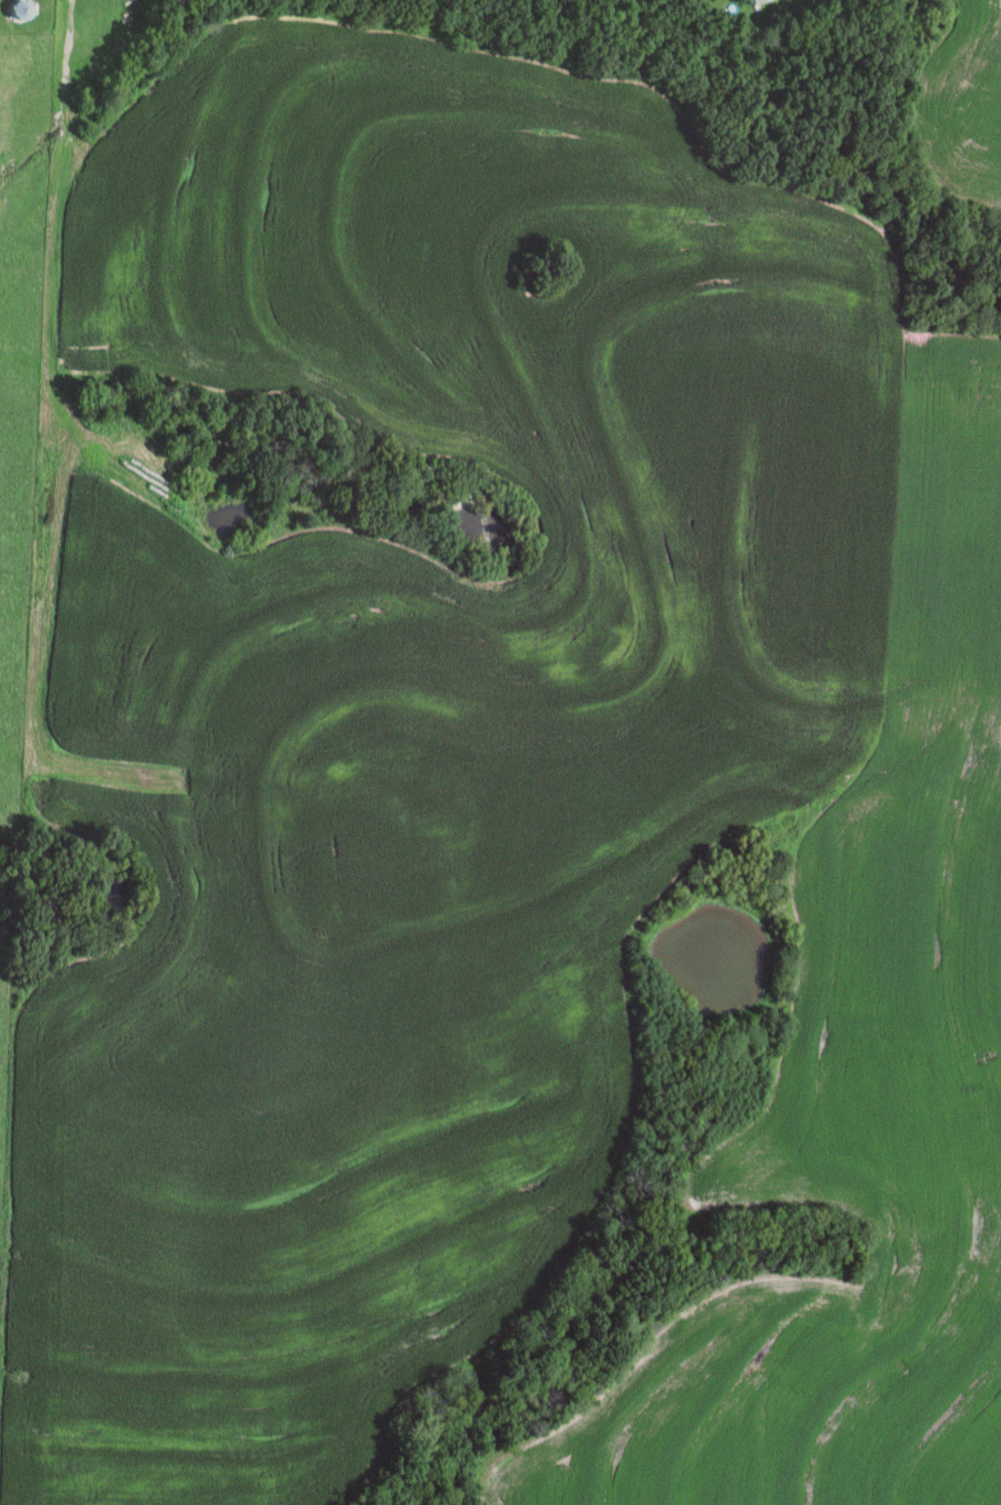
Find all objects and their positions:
building: (753, 1)
building: (17, 10)
crop: (959, 115)
road: (37, 514)
crop: (859, 1094)

